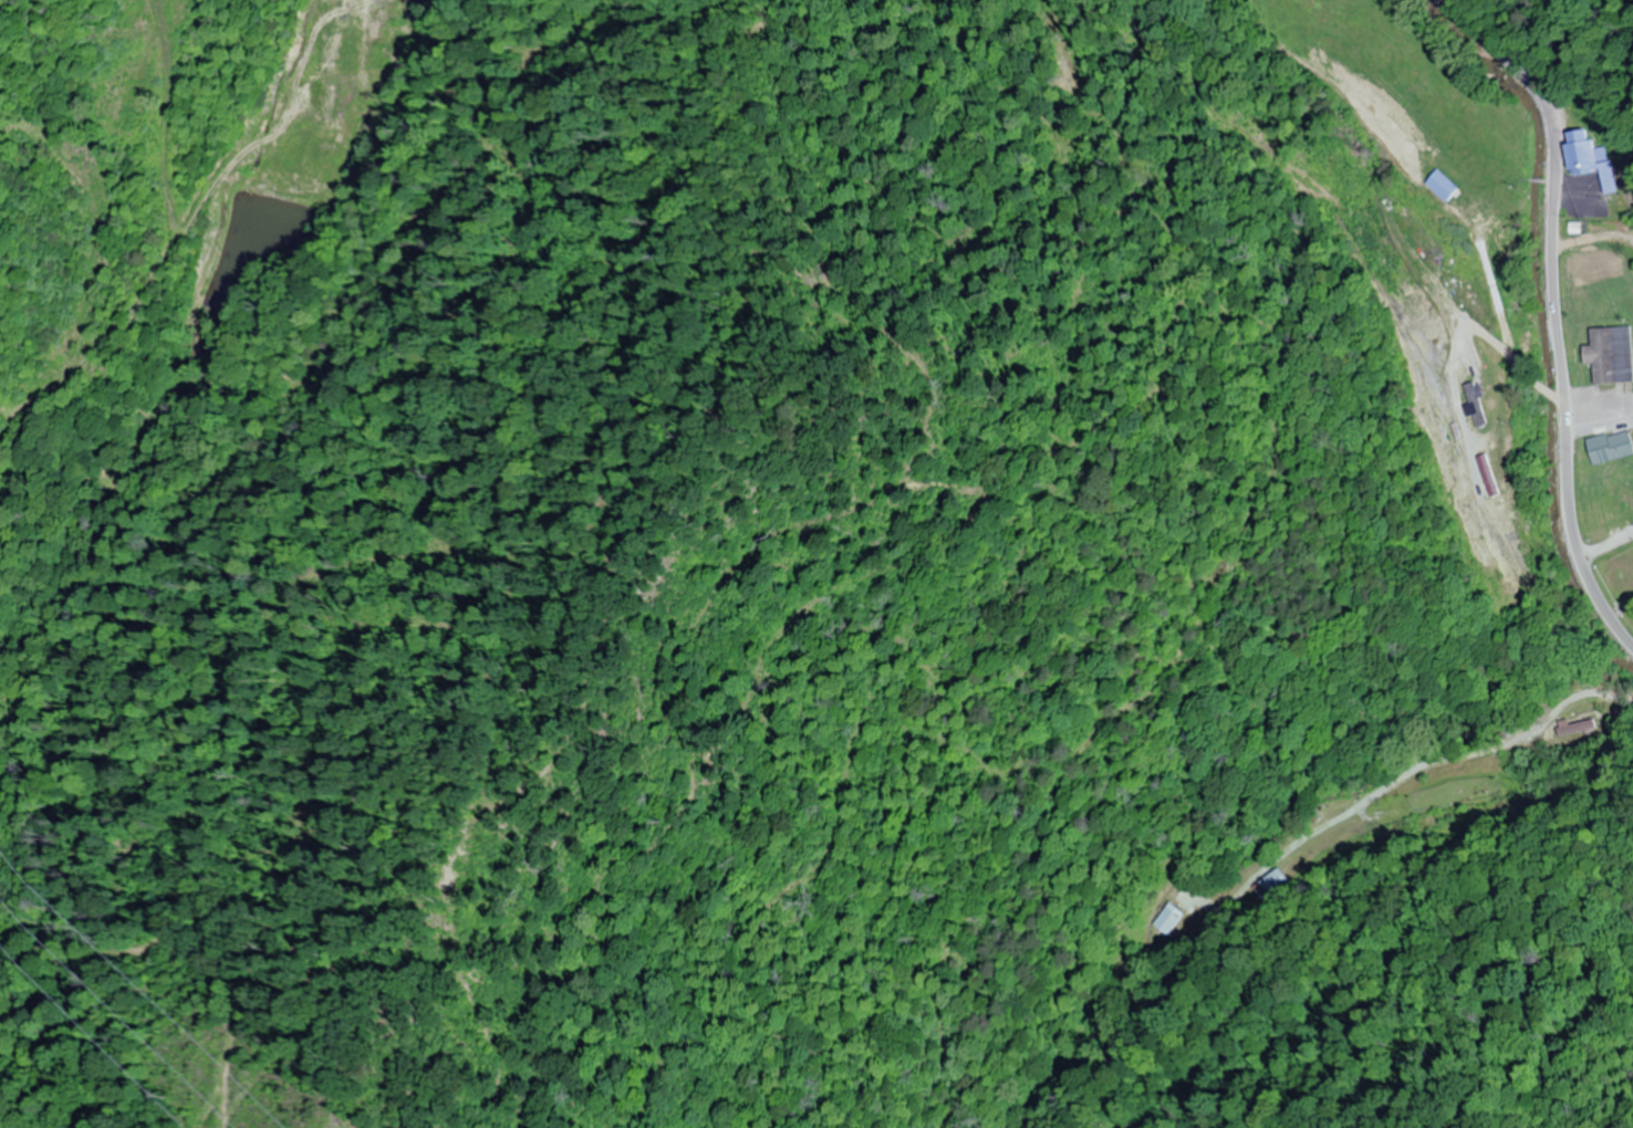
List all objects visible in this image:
building: (1580, 150)
building: (1460, 302)
road: (1557, 307)
building: (1612, 355)
building: (1611, 447)
building: (1582, 728)
building: (1276, 880)
building: (1185, 895)
building: (1168, 918)

